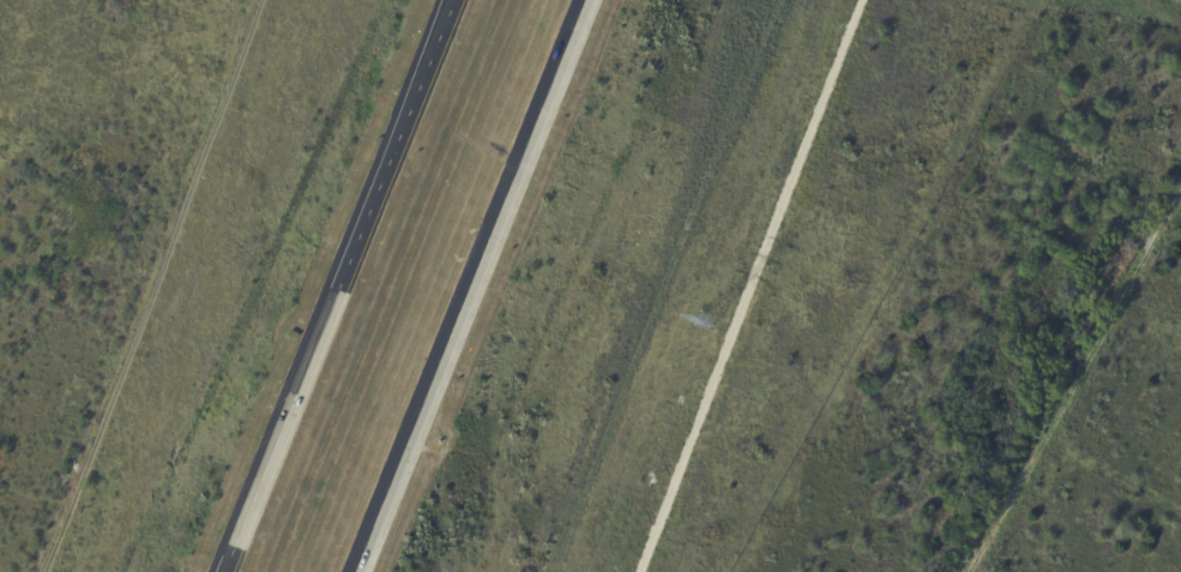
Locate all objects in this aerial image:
road: (337, 285)
road: (470, 285)
road: (757, 285)
power tower: (700, 325)
road: (1077, 384)

